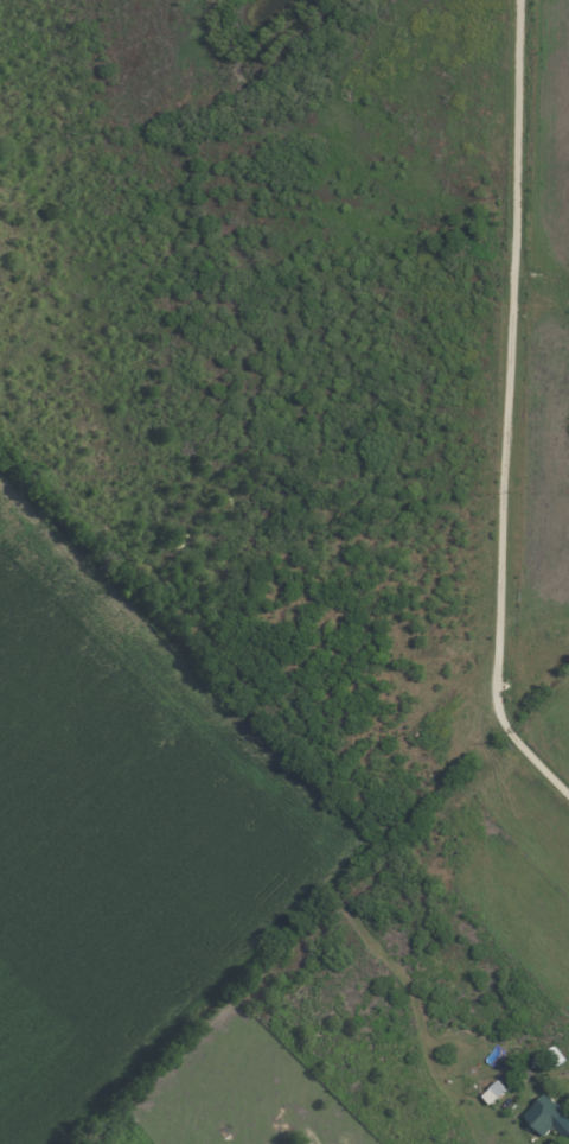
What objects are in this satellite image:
road: (514, 389)
building: (497, 1092)
building: (550, 1114)

